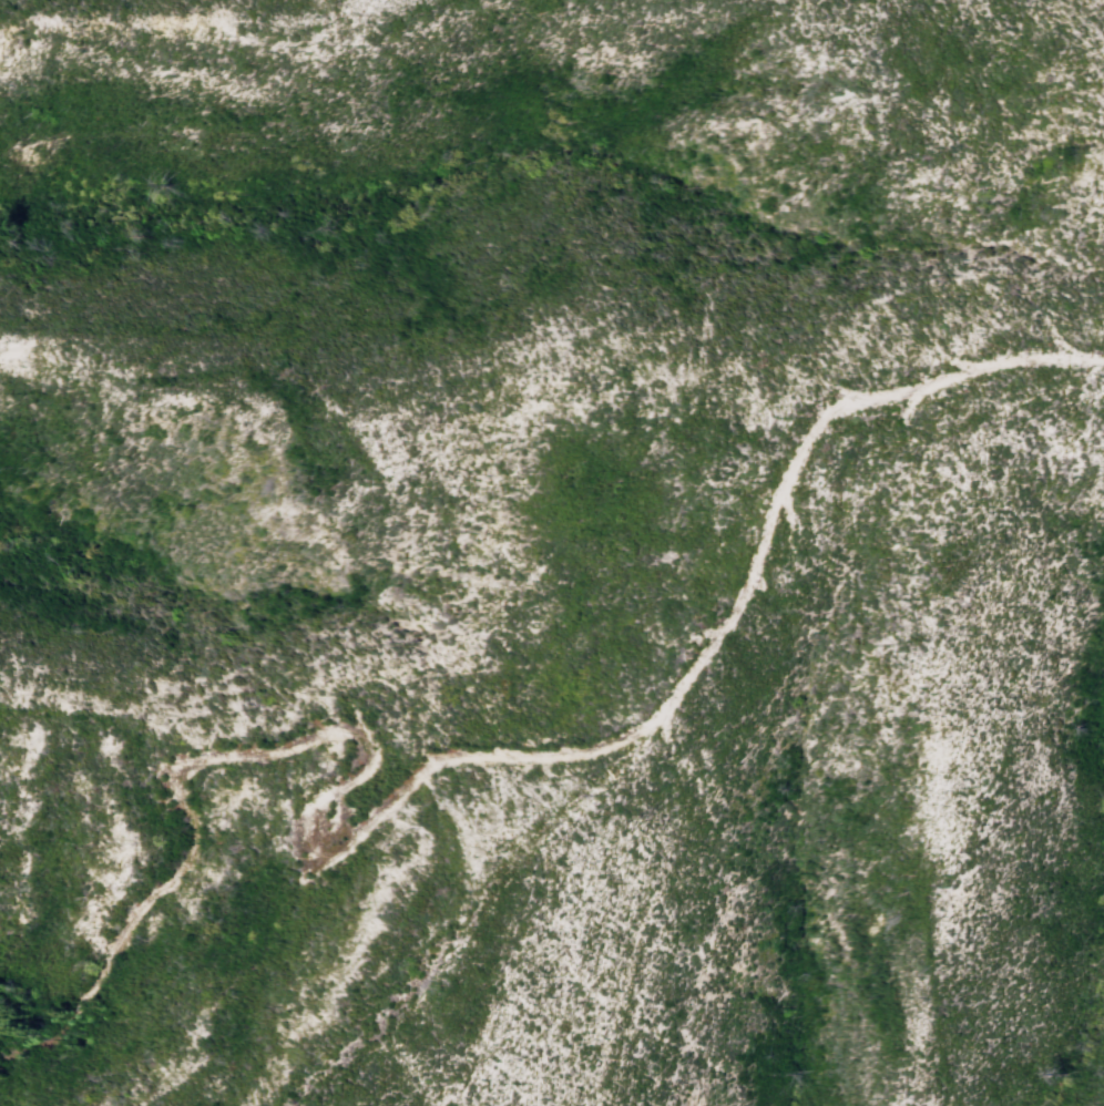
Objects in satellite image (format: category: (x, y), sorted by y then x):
road: (891, 399)
road: (345, 730)
road: (558, 836)

